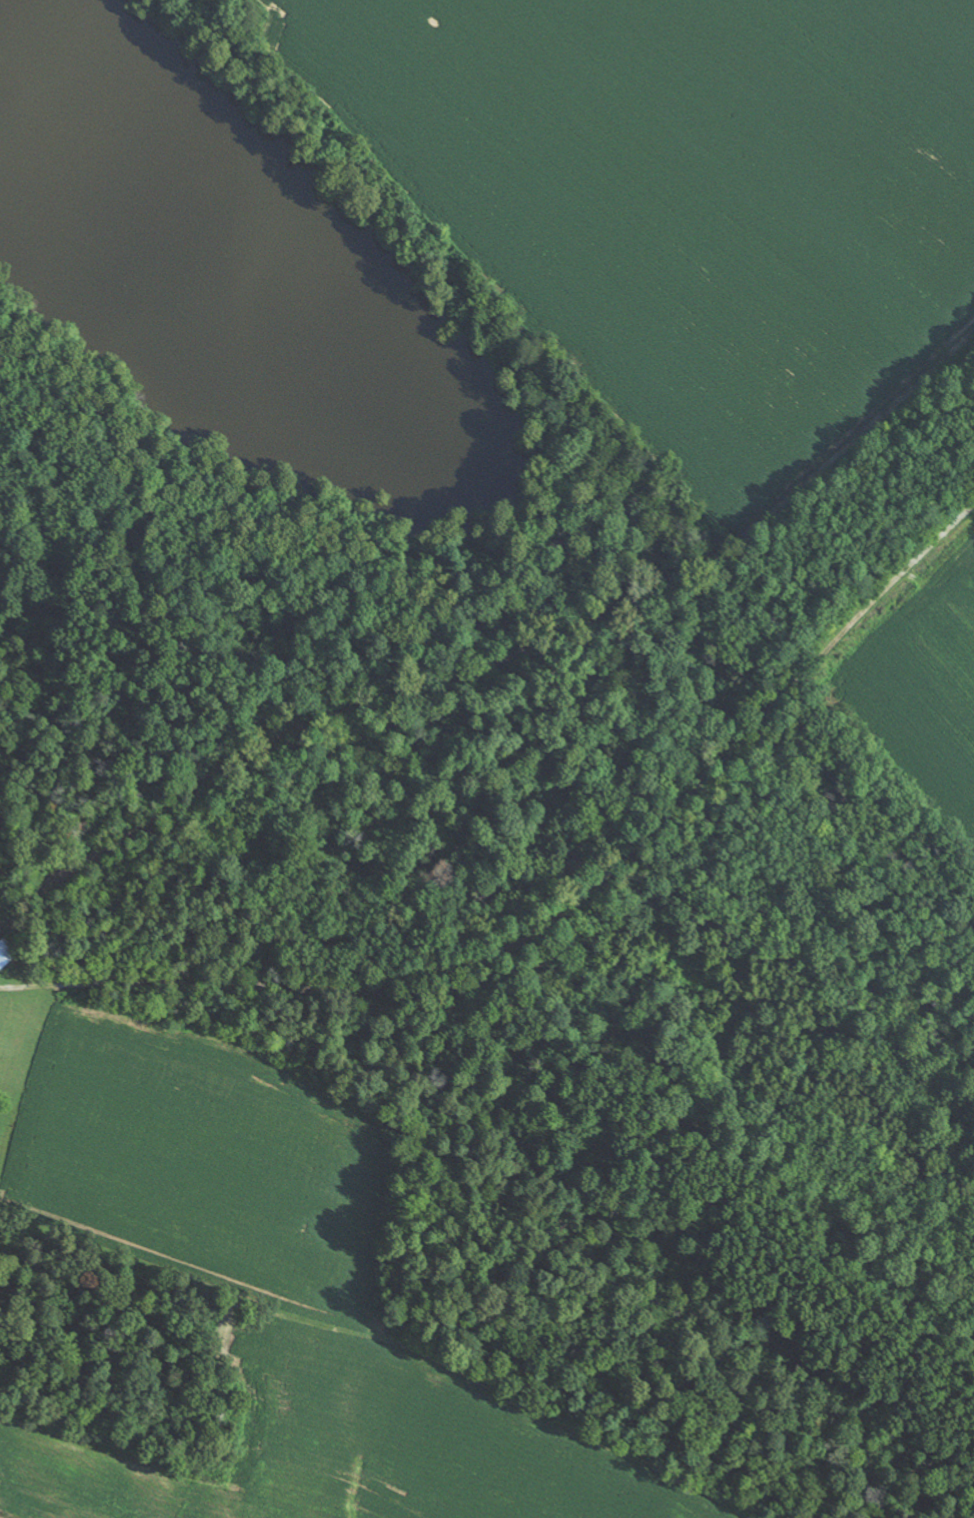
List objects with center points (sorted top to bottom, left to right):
road: (281, 894)

